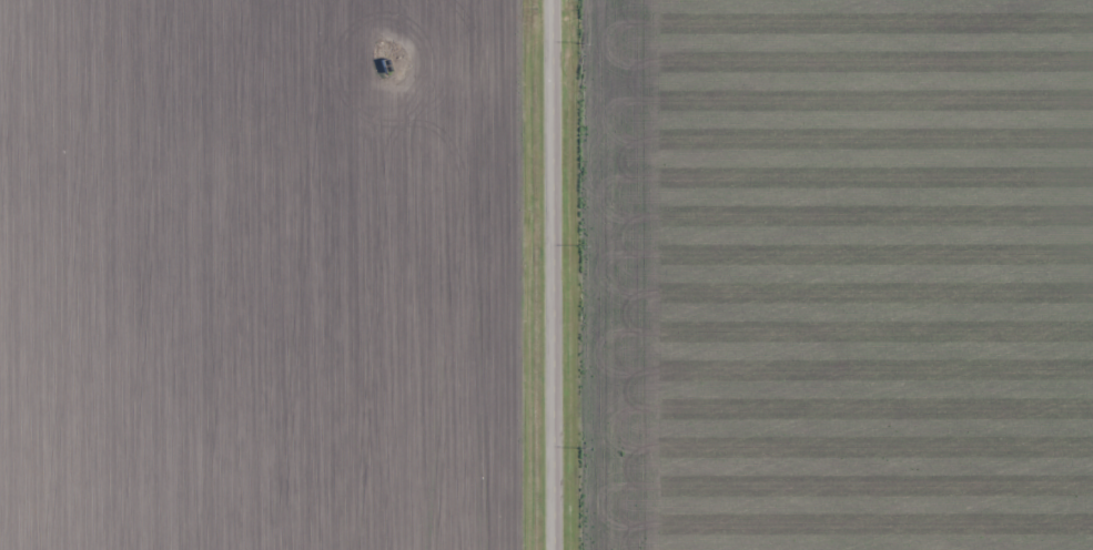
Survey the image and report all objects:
road: (547, 275)

